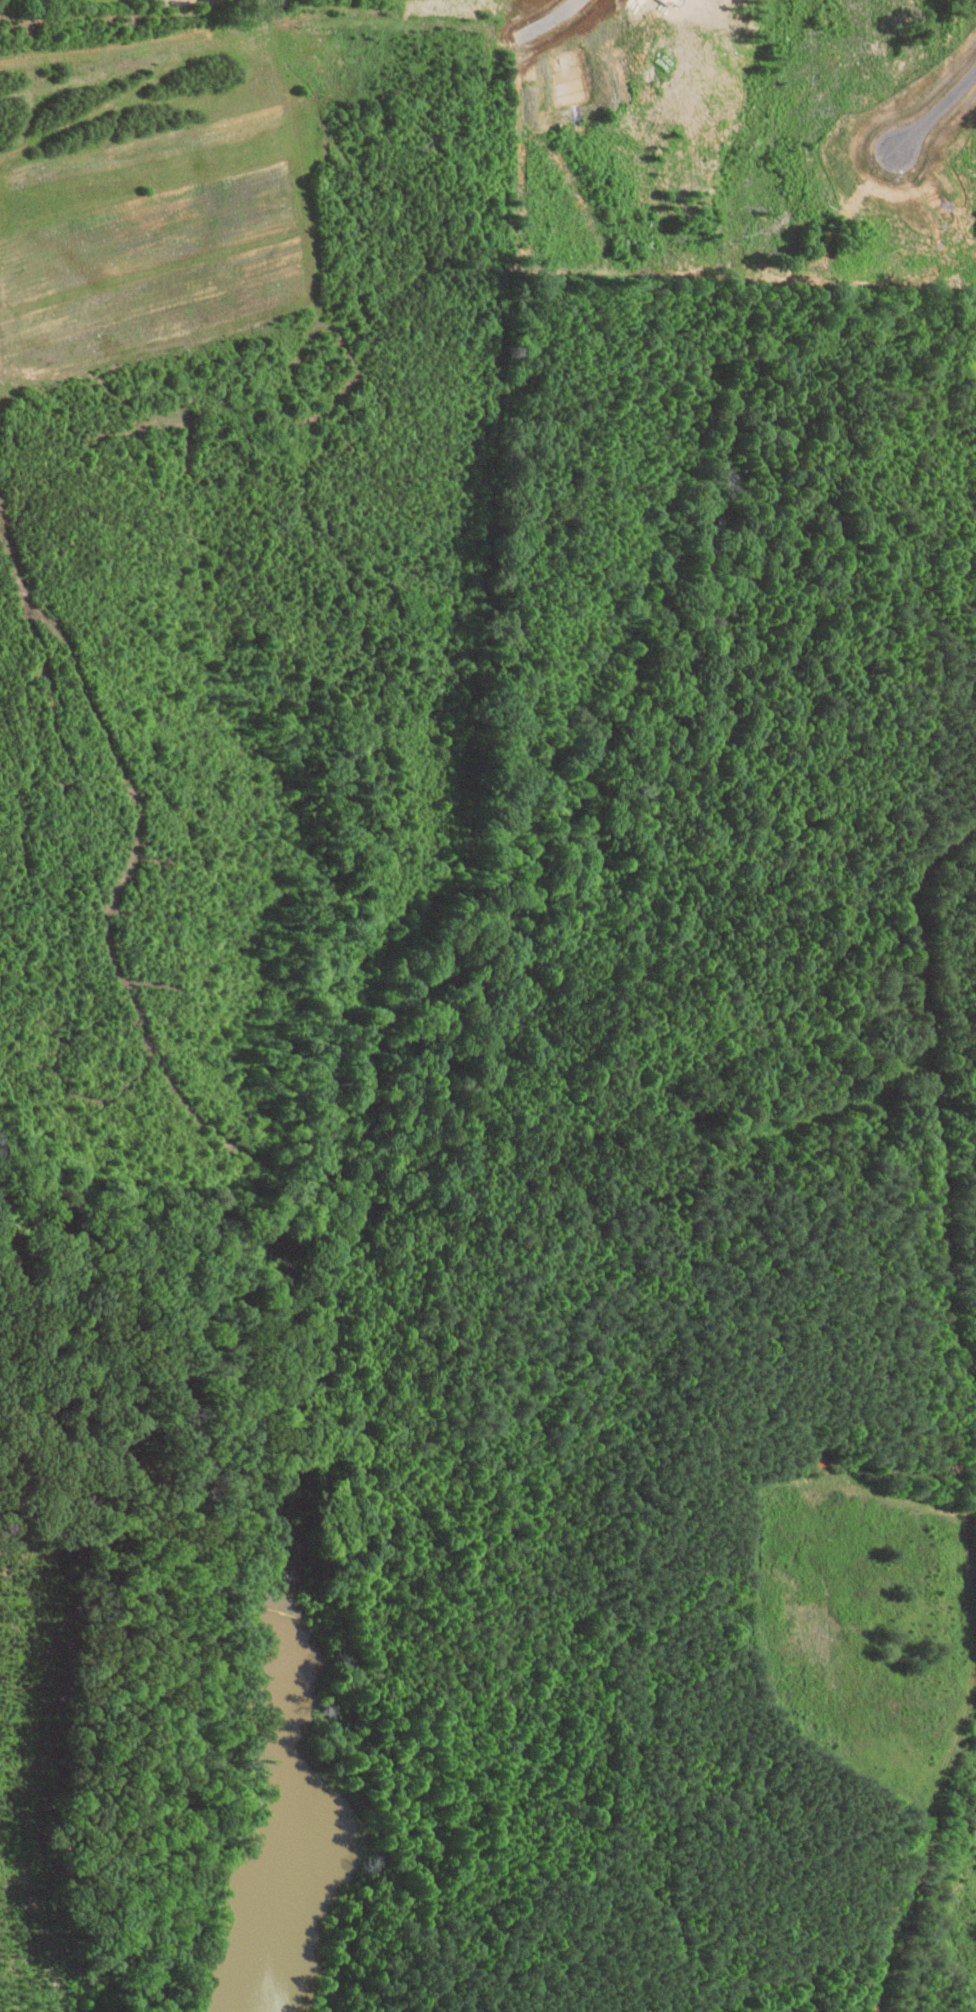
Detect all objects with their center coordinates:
road: (934, 113)
road: (313, 173)

